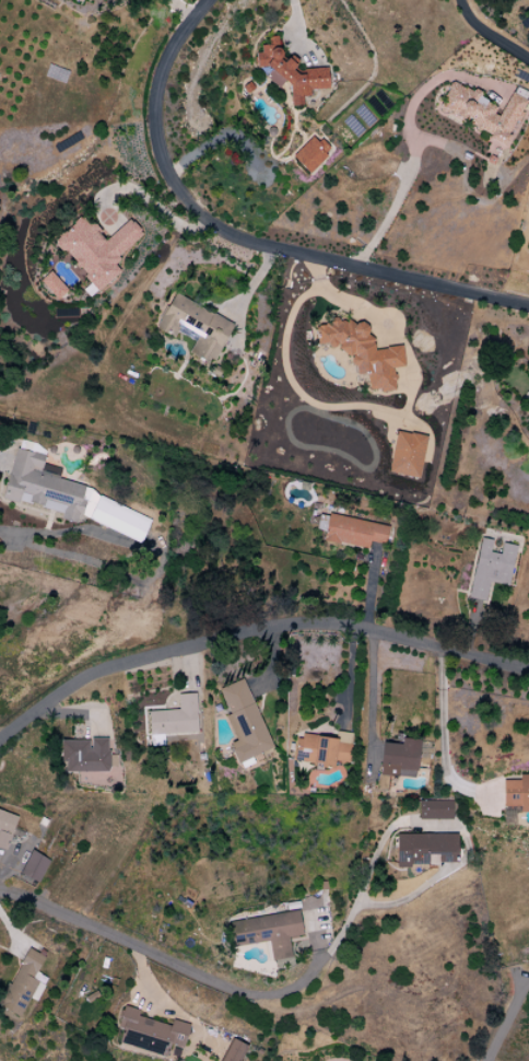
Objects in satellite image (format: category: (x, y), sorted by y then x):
road: (178, 5)
road: (295, 22)
road: (490, 35)
building: (290, 72)
building: (482, 110)
road: (412, 140)
building: (310, 153)
road: (152, 208)
road: (245, 240)
building: (96, 248)
building: (52, 285)
building: (195, 327)
building: (362, 352)
building: (405, 454)
building: (69, 497)
building: (353, 532)
building: (491, 568)
road: (254, 632)
road: (373, 697)
building: (175, 718)
building: (244, 723)
road: (444, 738)
building: (322, 749)
building: (84, 755)
building: (399, 758)
building: (516, 793)
building: (434, 811)
building: (5, 828)
building: (425, 849)
building: (34, 866)
building: (268, 932)
building: (23, 983)
road: (249, 994)
road: (504, 1021)
building: (149, 1033)
building: (233, 1051)

